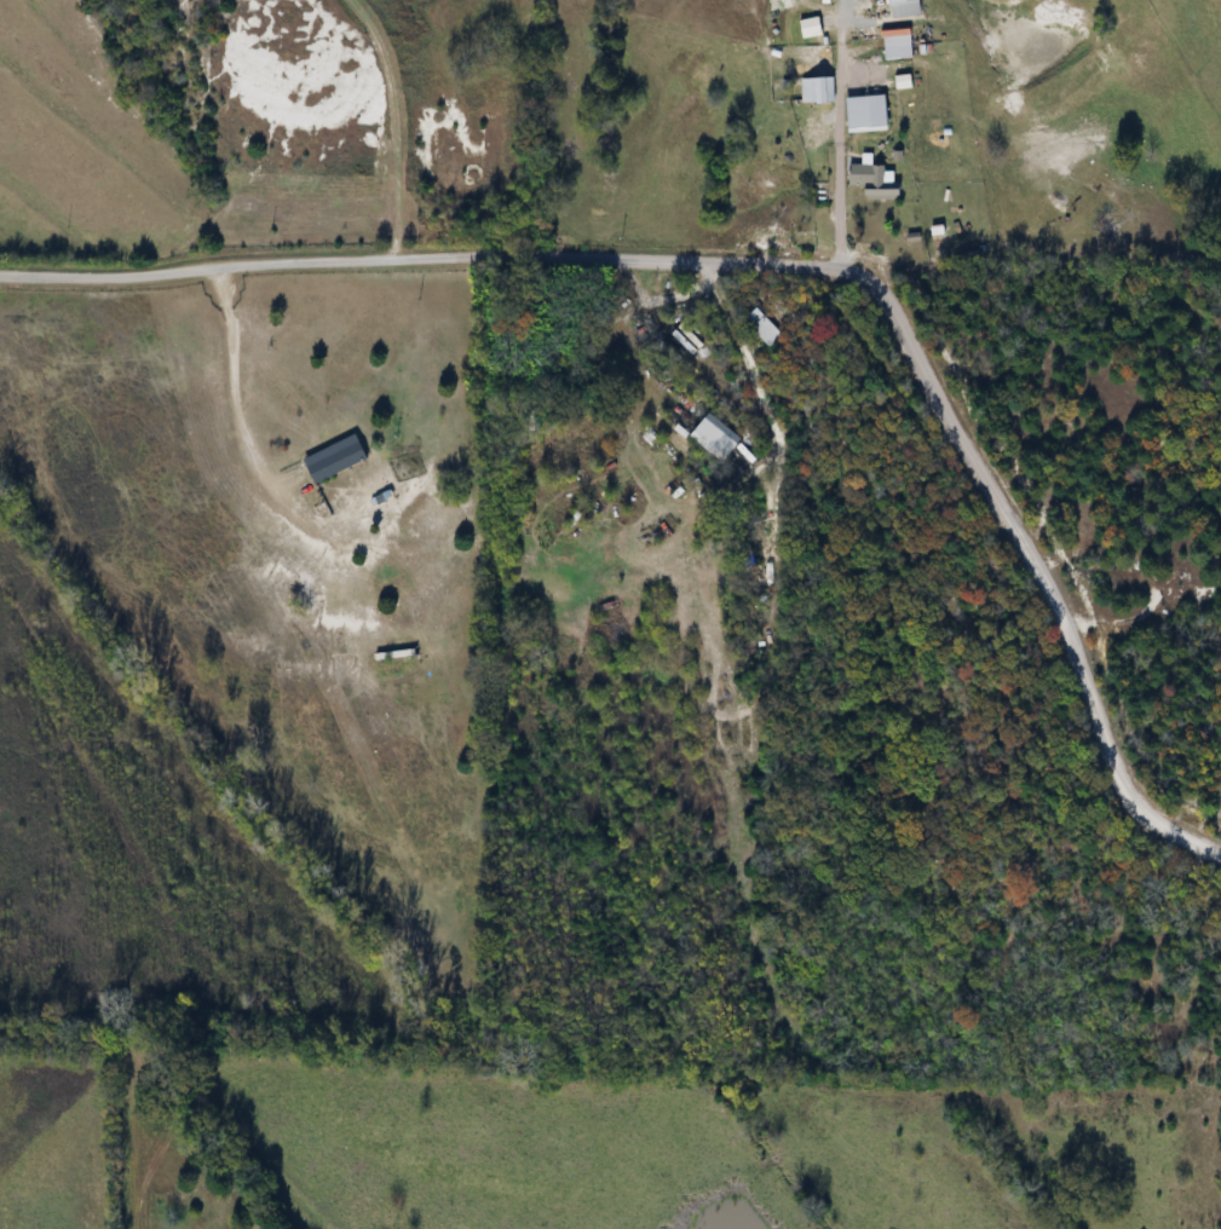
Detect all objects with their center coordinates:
building: (905, 8)
building: (813, 28)
building: (899, 48)
building: (870, 85)
building: (818, 91)
road: (399, 125)
road: (840, 162)
building: (876, 181)
road: (783, 265)
building: (762, 328)
road: (751, 368)
road: (237, 403)
building: (718, 438)
building: (338, 460)
building: (399, 658)
road: (48, 1040)
park: (174, 1156)

